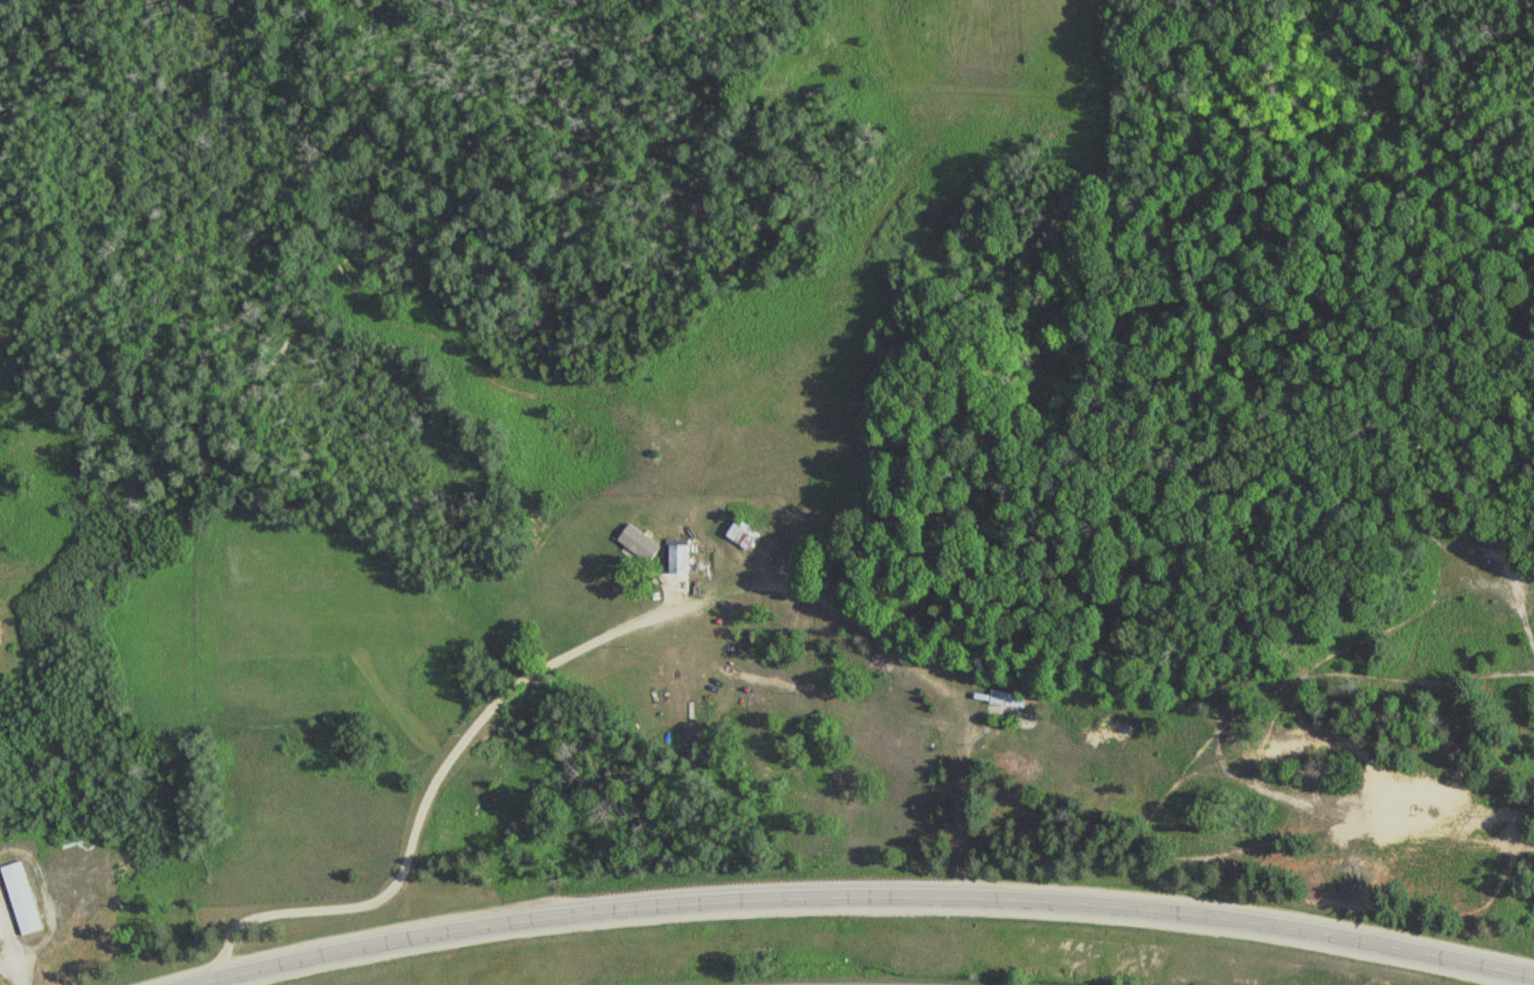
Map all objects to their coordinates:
building: (747, 533)
building: (642, 543)
building: (682, 559)
building: (1008, 706)
road: (865, 896)
building: (24, 897)

